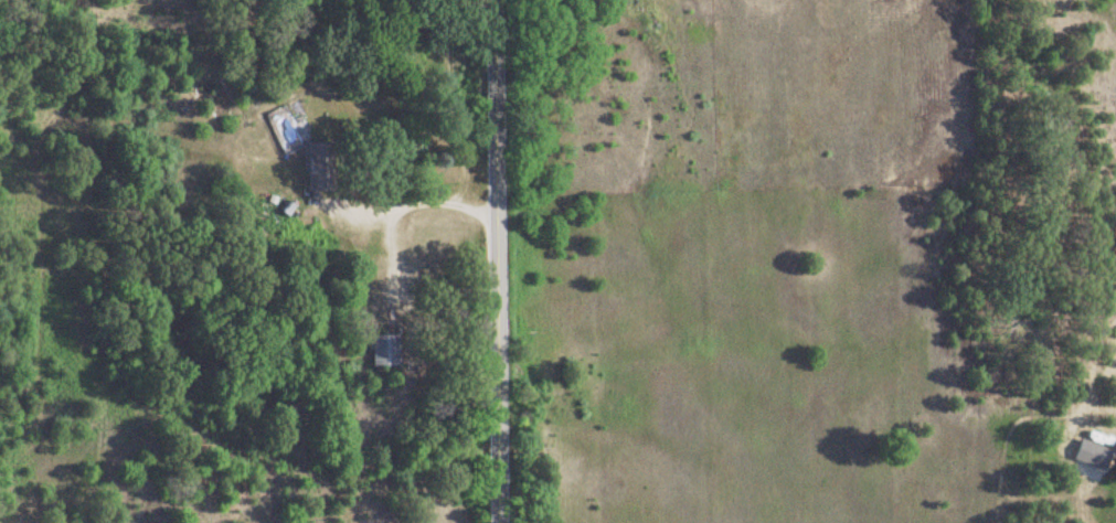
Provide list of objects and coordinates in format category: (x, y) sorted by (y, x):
building: (318, 168)
road: (412, 198)
road: (495, 260)
building: (381, 351)

